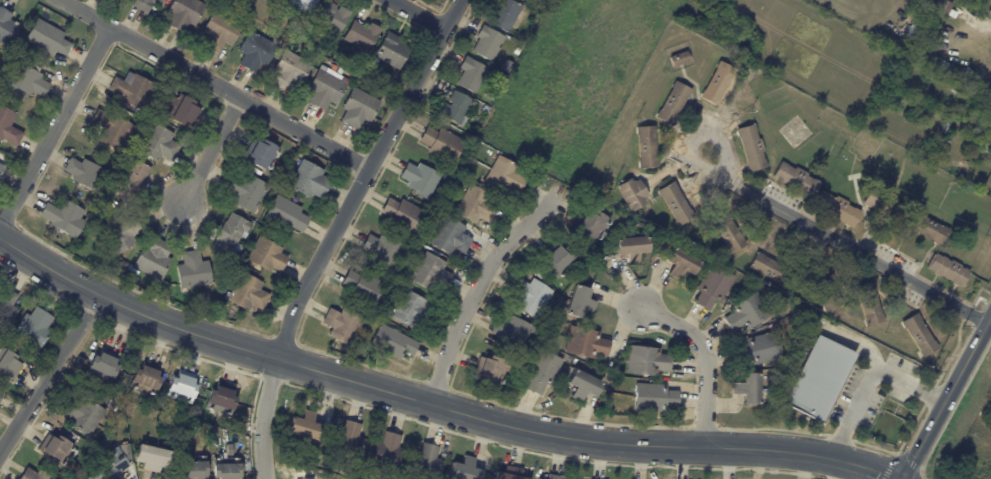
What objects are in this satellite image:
building: (276, 0)
building: (258, 1)
building: (988, 1)
building: (145, 3)
building: (301, 5)
building: (939, 5)
building: (541, 8)
building: (183, 14)
road: (417, 14)
building: (504, 15)
building: (331, 17)
building: (273, 22)
building: (6, 28)
building: (219, 31)
building: (270, 31)
building: (362, 36)
building: (46, 38)
building: (488, 43)
building: (255, 51)
building: (391, 51)
building: (517, 51)
building: (918, 58)
building: (679, 59)
building: (290, 71)
building: (353, 75)
building: (471, 75)
building: (23, 79)
building: (718, 83)
road: (214, 85)
building: (325, 90)
building: (957, 90)
building: (130, 91)
building: (673, 103)
building: (359, 108)
building: (455, 108)
building: (180, 110)
building: (485, 110)
road: (54, 125)
building: (8, 128)
building: (111, 129)
building: (947, 129)
building: (156, 143)
building: (441, 144)
building: (647, 147)
building: (979, 147)
building: (752, 148)
road: (210, 150)
building: (261, 154)
building: (1, 168)
building: (85, 174)
building: (505, 176)
building: (131, 179)
building: (420, 179)
building: (308, 180)
building: (796, 180)
building: (986, 186)
building: (246, 192)
building: (632, 194)
building: (675, 204)
building: (475, 205)
building: (887, 206)
building: (837, 209)
building: (285, 215)
building: (403, 216)
building: (63, 217)
building: (593, 226)
building: (927, 229)
road: (333, 230)
building: (727, 232)
building: (120, 233)
road: (844, 233)
building: (229, 236)
building: (450, 236)
building: (631, 247)
building: (381, 251)
building: (265, 255)
building: (702, 258)
building: (152, 259)
building: (600, 259)
building: (559, 261)
building: (680, 263)
building: (772, 270)
building: (948, 270)
building: (195, 271)
building: (430, 273)
road: (477, 285)
building: (712, 287)
building: (363, 288)
building: (247, 294)
building: (827, 294)
building: (530, 297)
building: (579, 303)
building: (869, 304)
building: (6, 307)
building: (412, 312)
building: (747, 313)
building: (342, 325)
building: (33, 329)
building: (510, 334)
building: (920, 336)
building: (392, 342)
building: (585, 344)
building: (759, 350)
building: (646, 361)
road: (704, 361)
building: (8, 365)
building: (102, 365)
building: (490, 371)
road: (49, 372)
building: (542, 372)
road: (868, 376)
building: (144, 377)
building: (818, 380)
building: (582, 386)
building: (182, 388)
building: (747, 390)
building: (1, 394)
building: (222, 398)
building: (0, 399)
building: (653, 399)
road: (945, 399)
building: (111, 403)
building: (149, 404)
building: (612, 405)
road: (436, 406)
building: (82, 413)
building: (115, 418)
building: (306, 425)
building: (238, 428)
building: (347, 439)
building: (105, 442)
building: (54, 448)
building: (386, 450)
building: (124, 452)
building: (151, 456)
building: (241, 461)
building: (426, 462)
building: (106, 465)
building: (191, 466)
building: (225, 467)
building: (464, 468)
building: (34, 473)
building: (510, 473)
building: (554, 476)
building: (540, 478)

